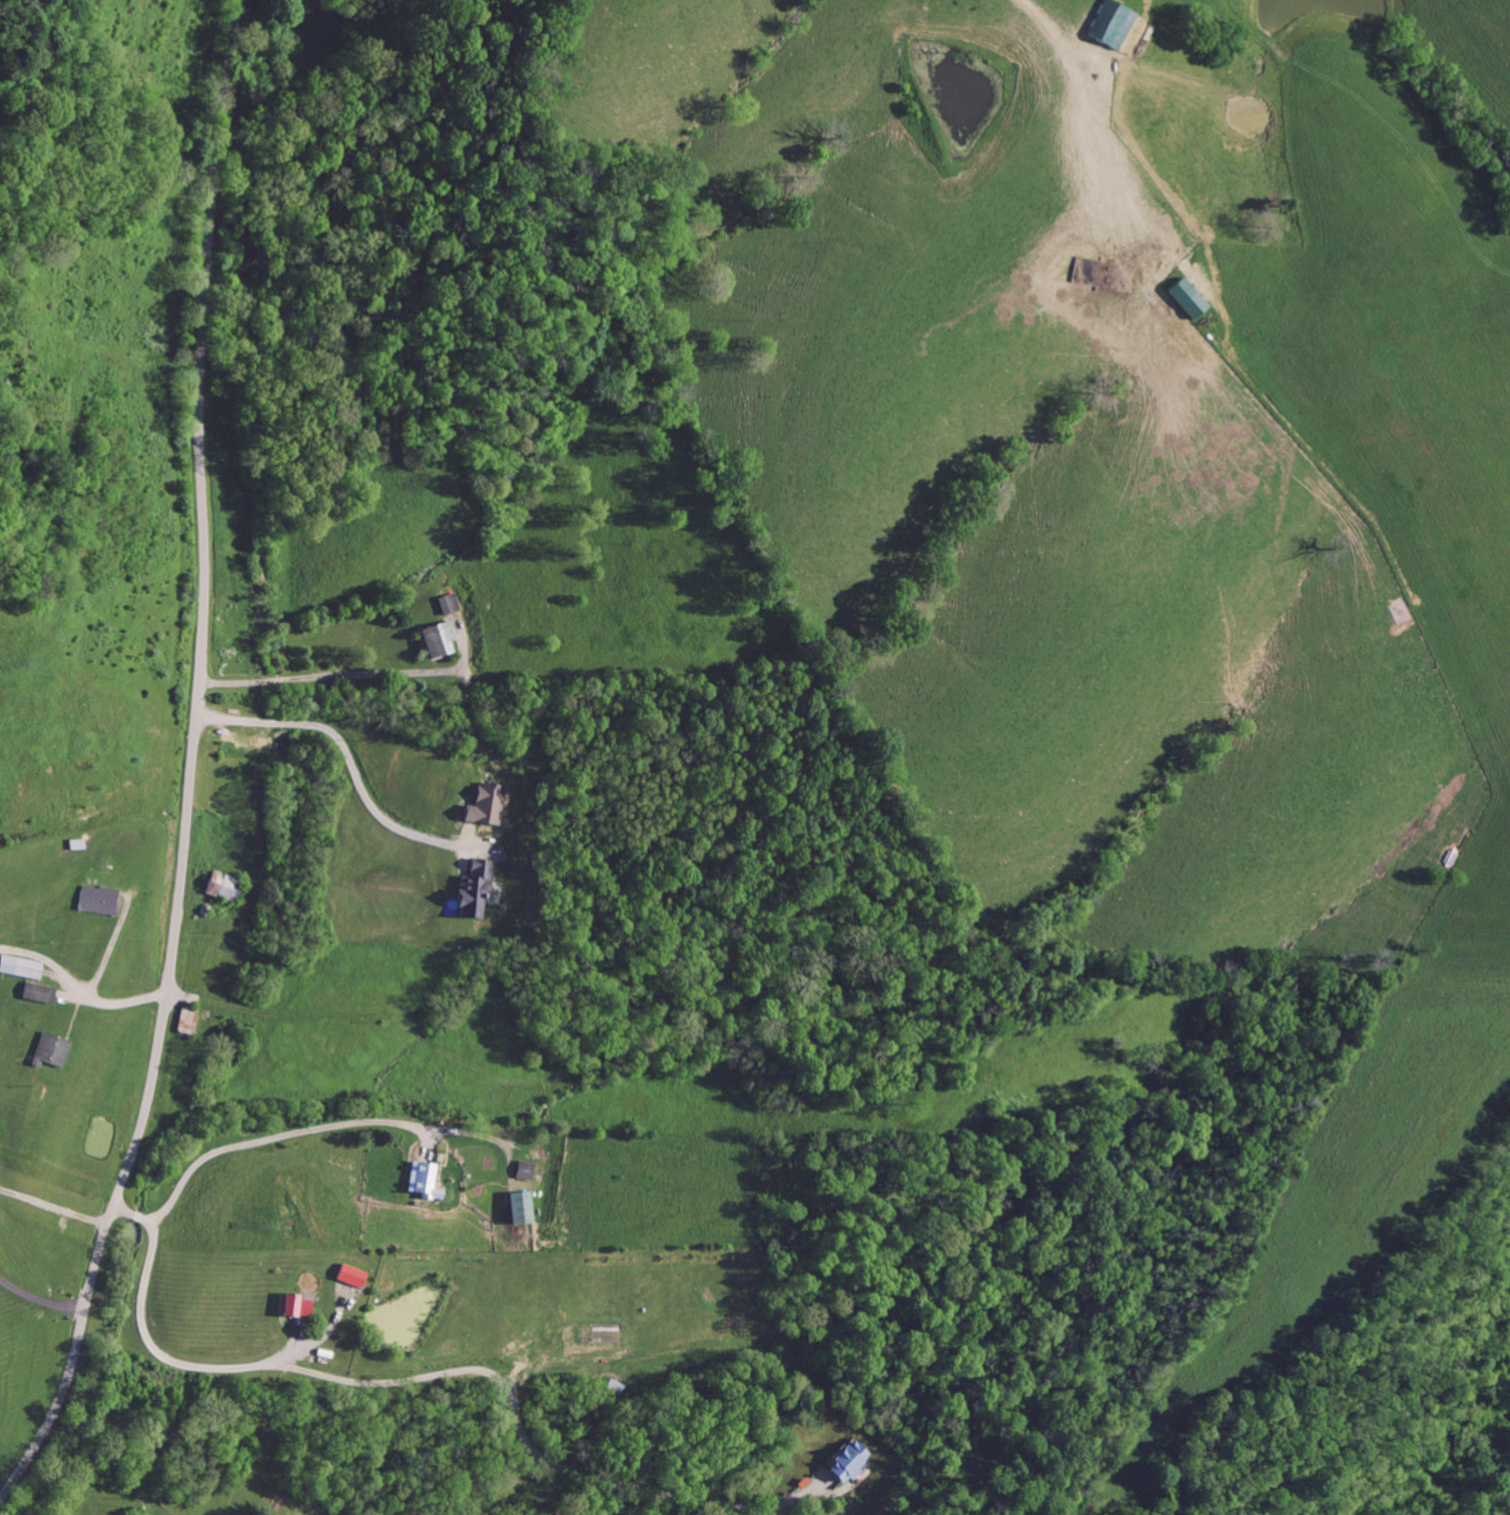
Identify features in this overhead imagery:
building: (1112, 22)
building: (1188, 299)
building: (452, 603)
building: (443, 638)
road: (364, 674)
road: (192, 765)
road: (355, 771)
building: (489, 805)
building: (223, 886)
building: (477, 886)
building: (100, 900)
building: (20, 967)
road: (79, 983)
building: (39, 992)
building: (188, 1020)
building: (52, 1049)
road: (320, 1127)
building: (529, 1168)
building: (427, 1180)
road: (53, 1206)
building: (524, 1206)
building: (352, 1276)
road: (39, 1299)
building: (297, 1306)
road: (297, 1347)
road: (457, 1372)
building: (848, 1461)

